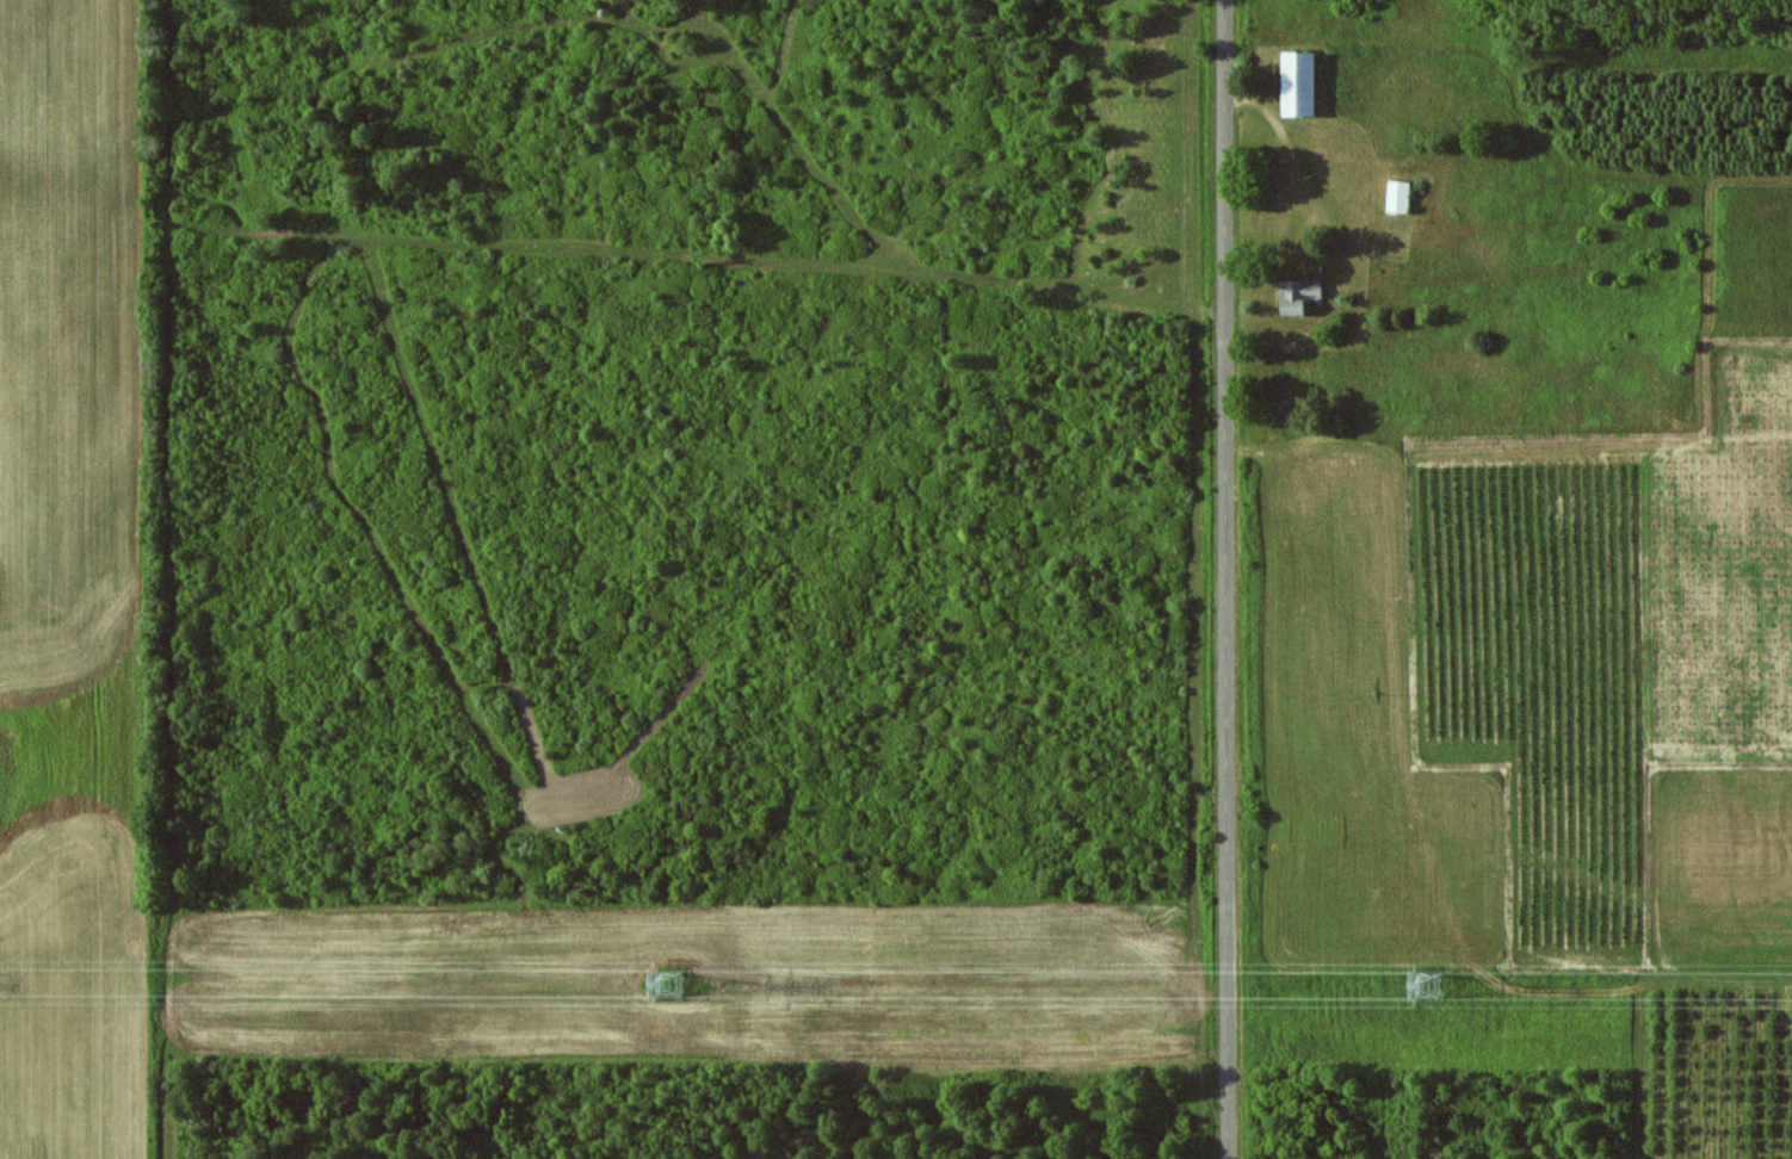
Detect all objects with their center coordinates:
building: (1300, 85)
building: (1401, 197)
building: (1302, 298)
road: (1229, 579)
power tower: (1432, 980)
power tower: (673, 981)

